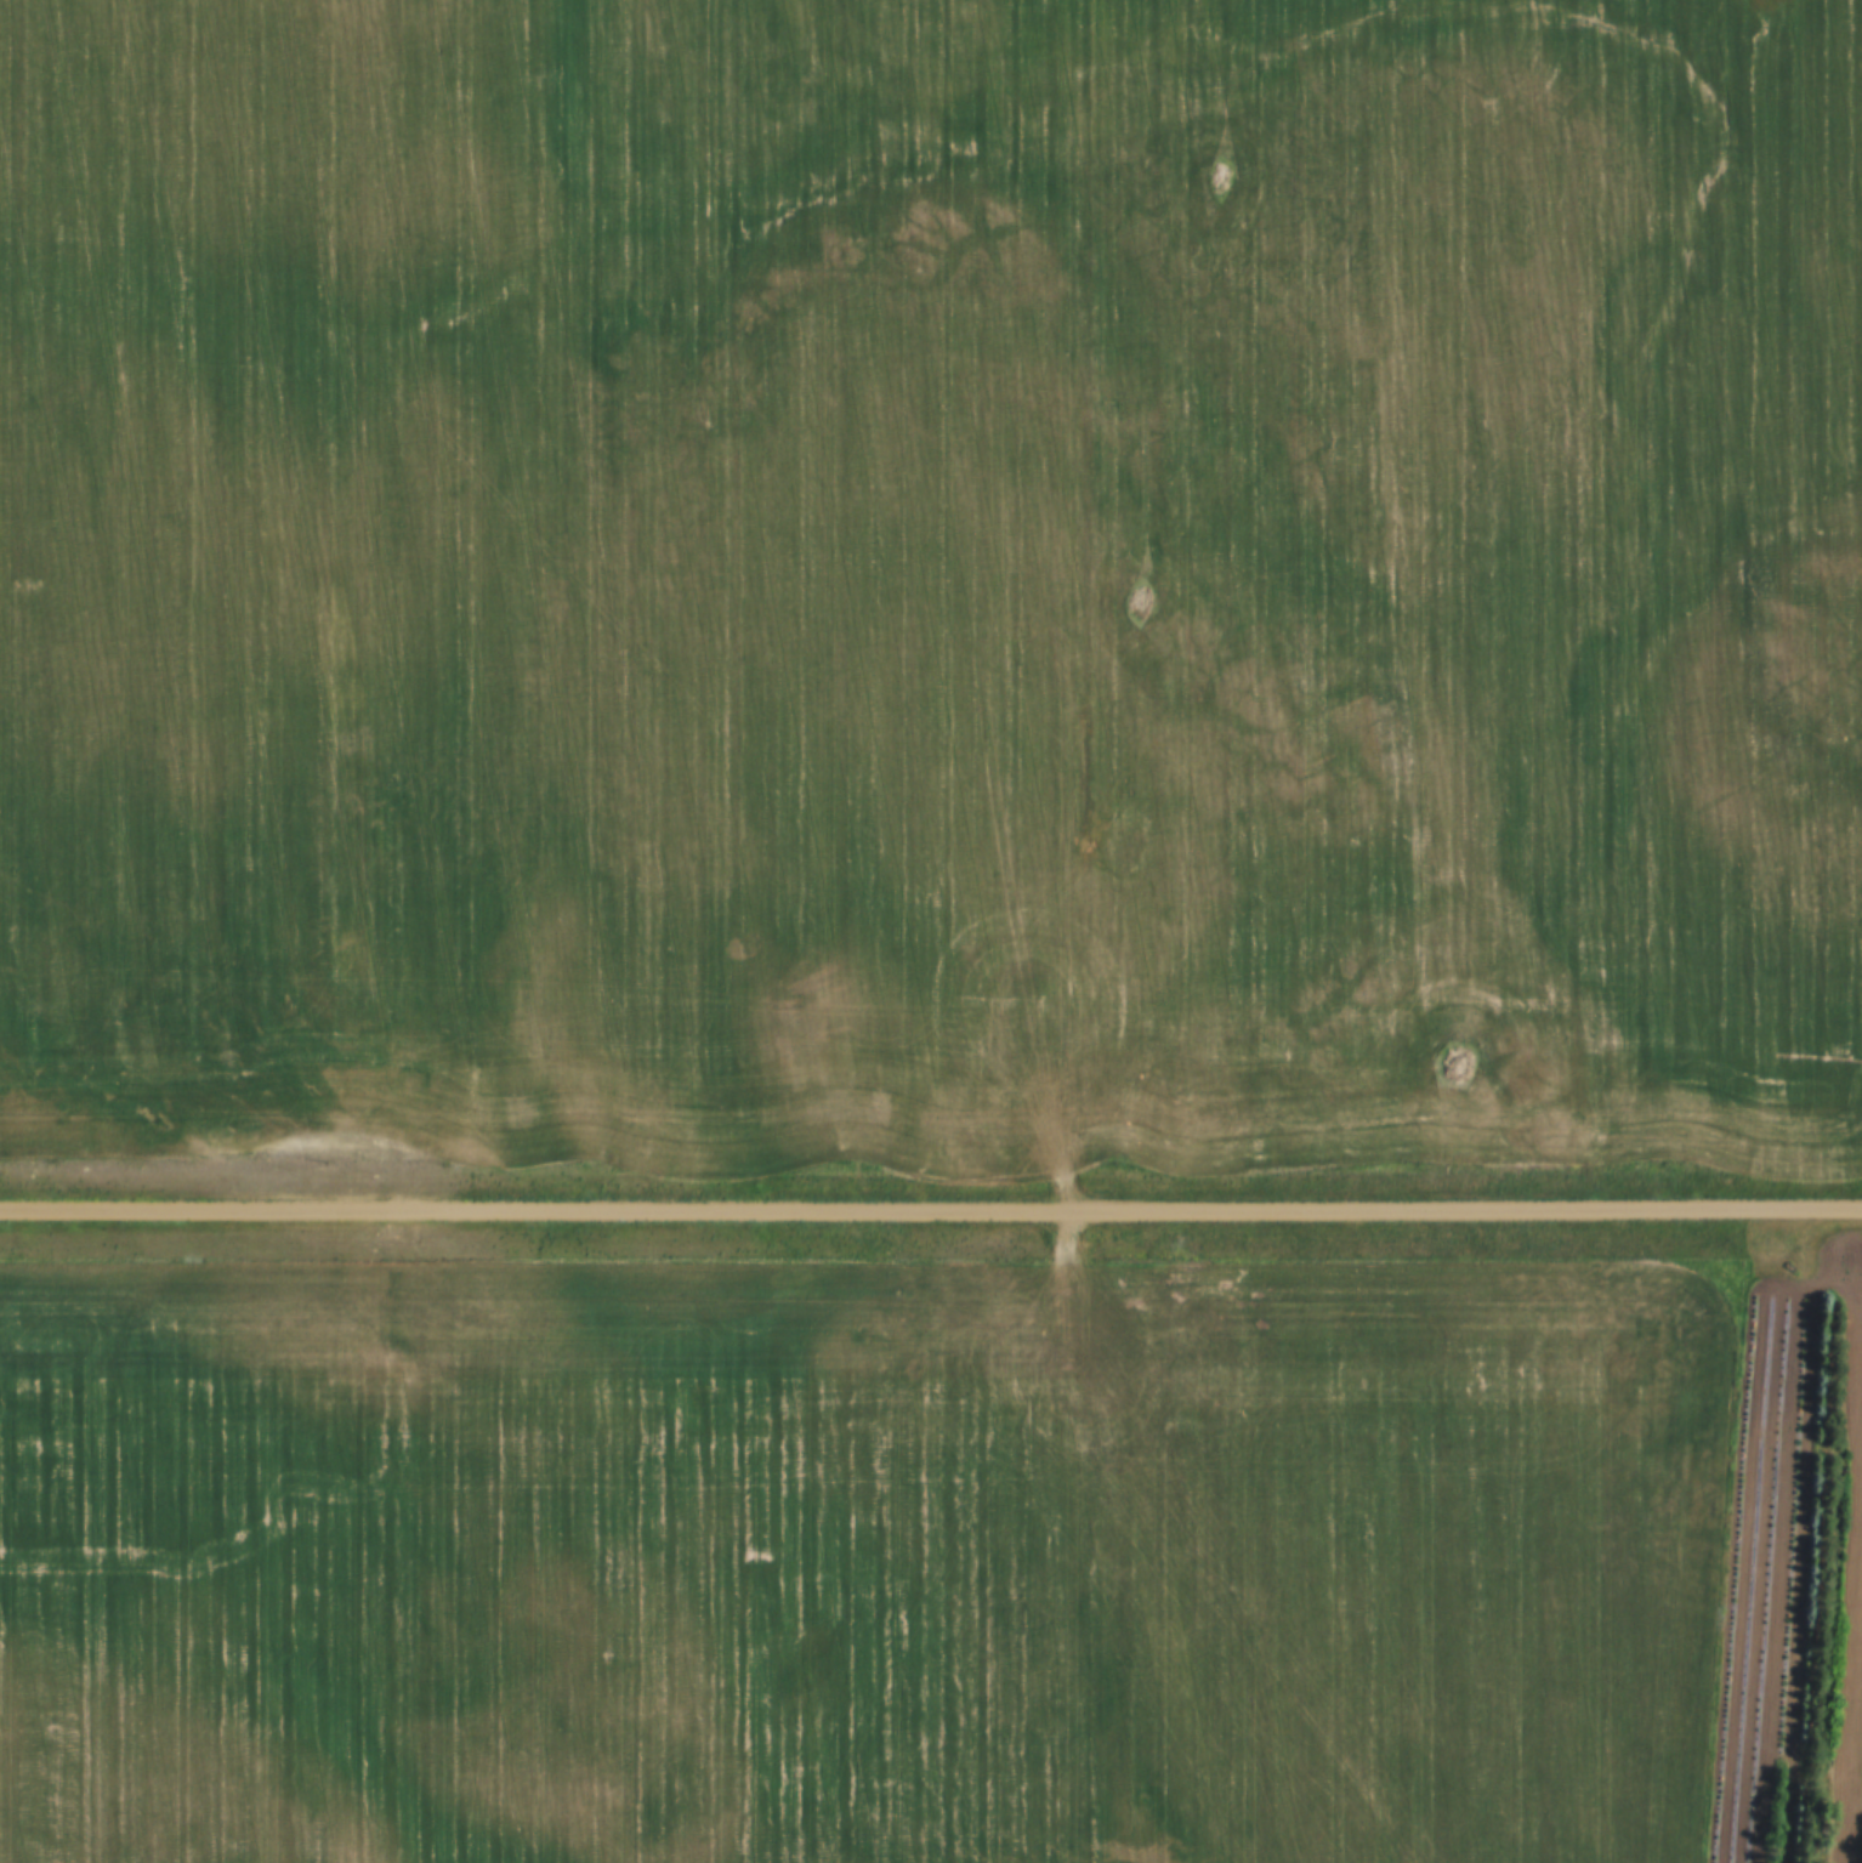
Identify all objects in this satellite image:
road: (930, 1211)

